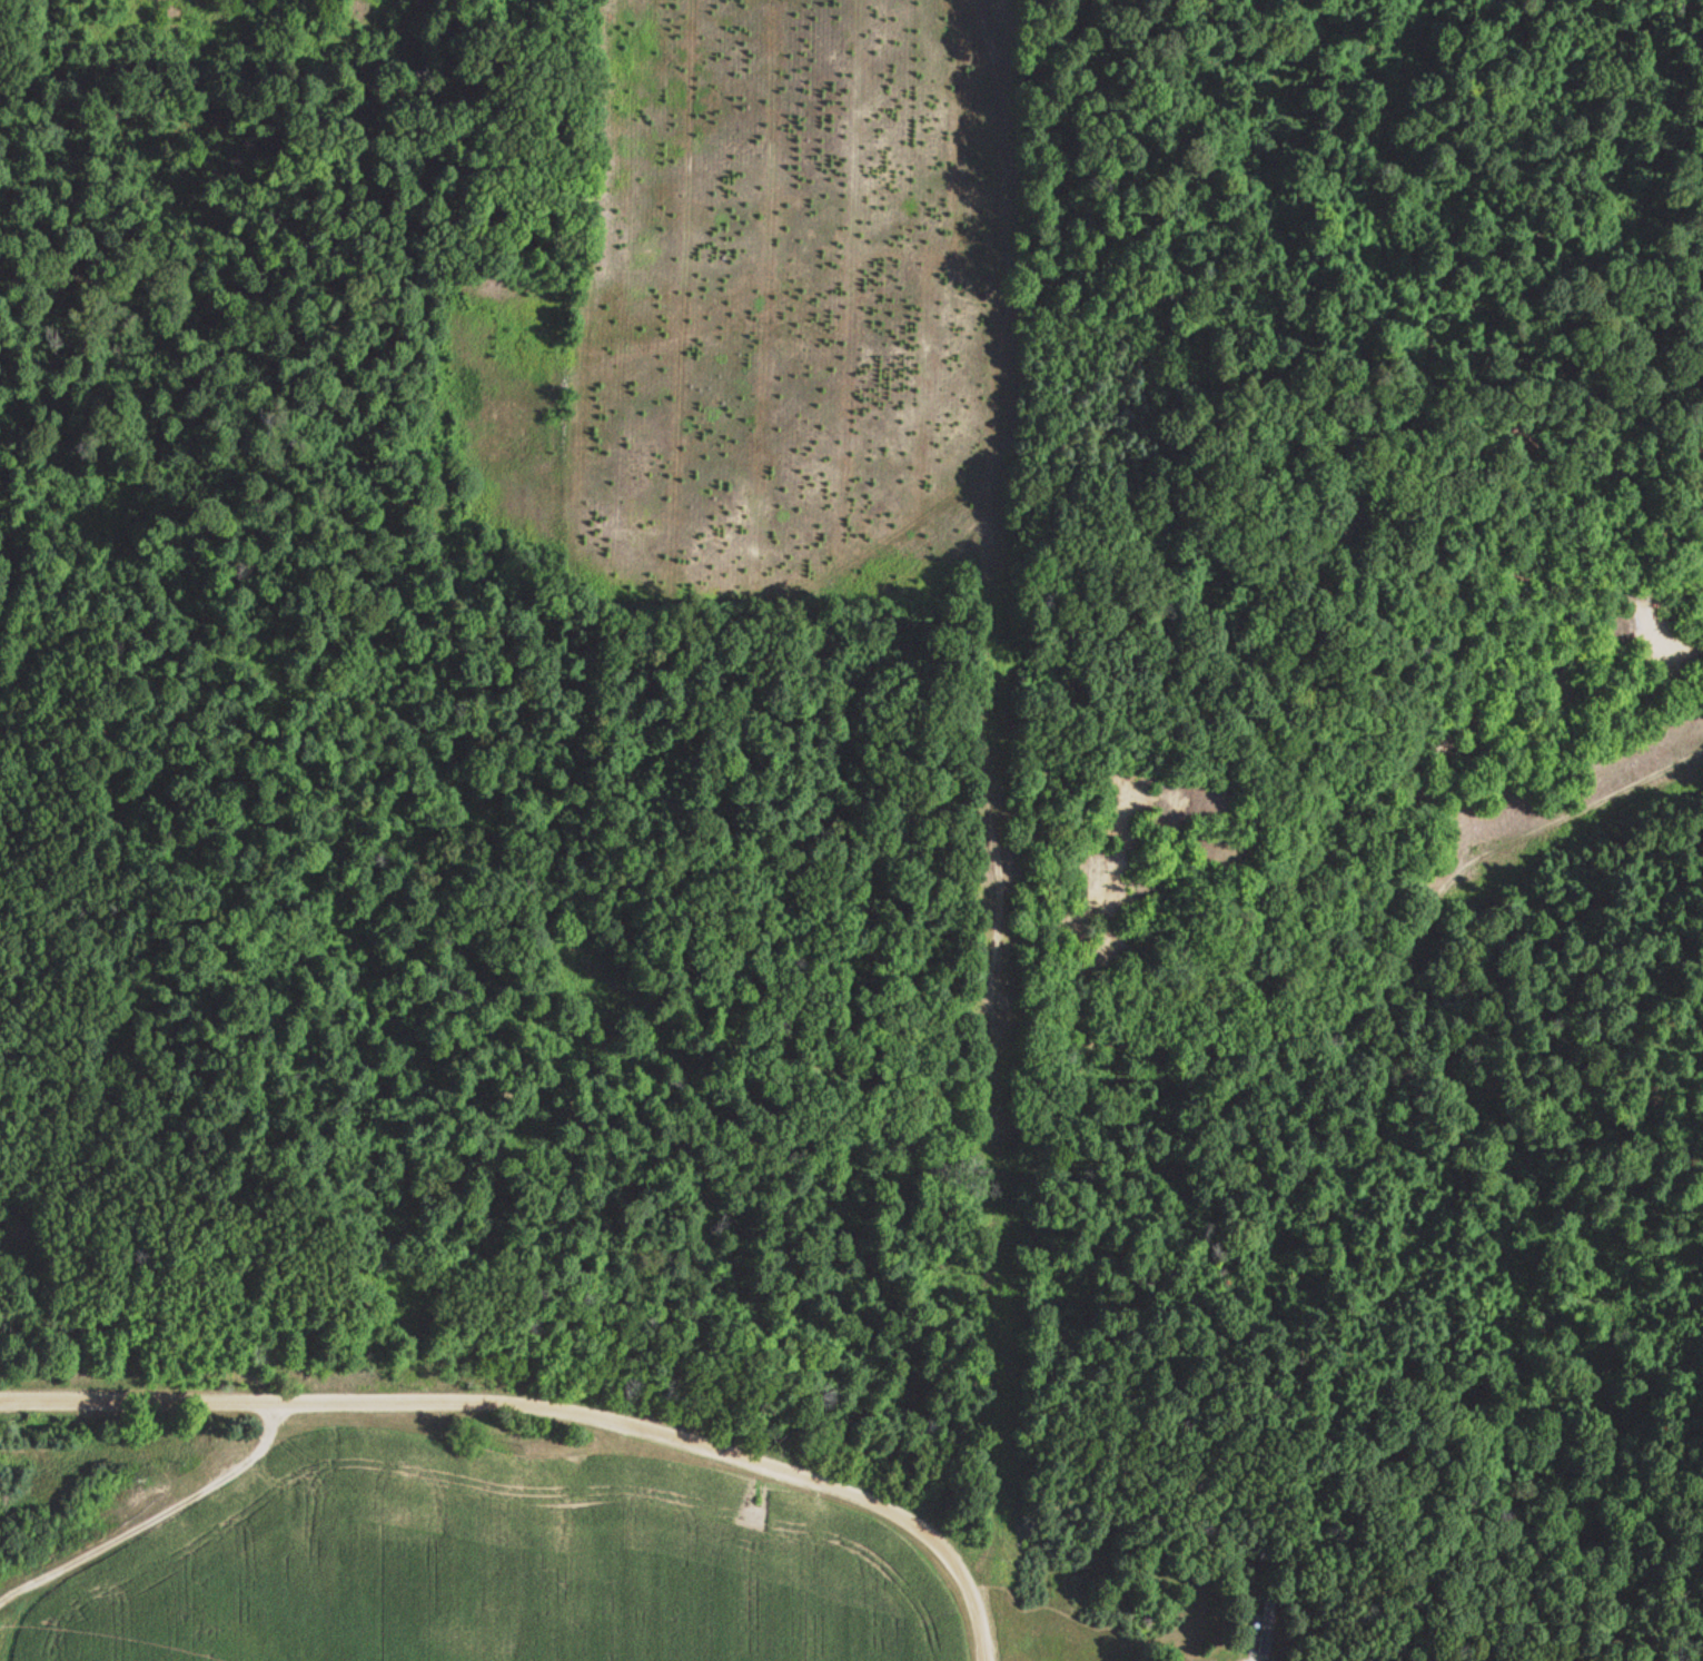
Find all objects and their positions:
road: (366, 1383)
building: (230, 1481)
road: (897, 1502)
building: (1263, 1632)

